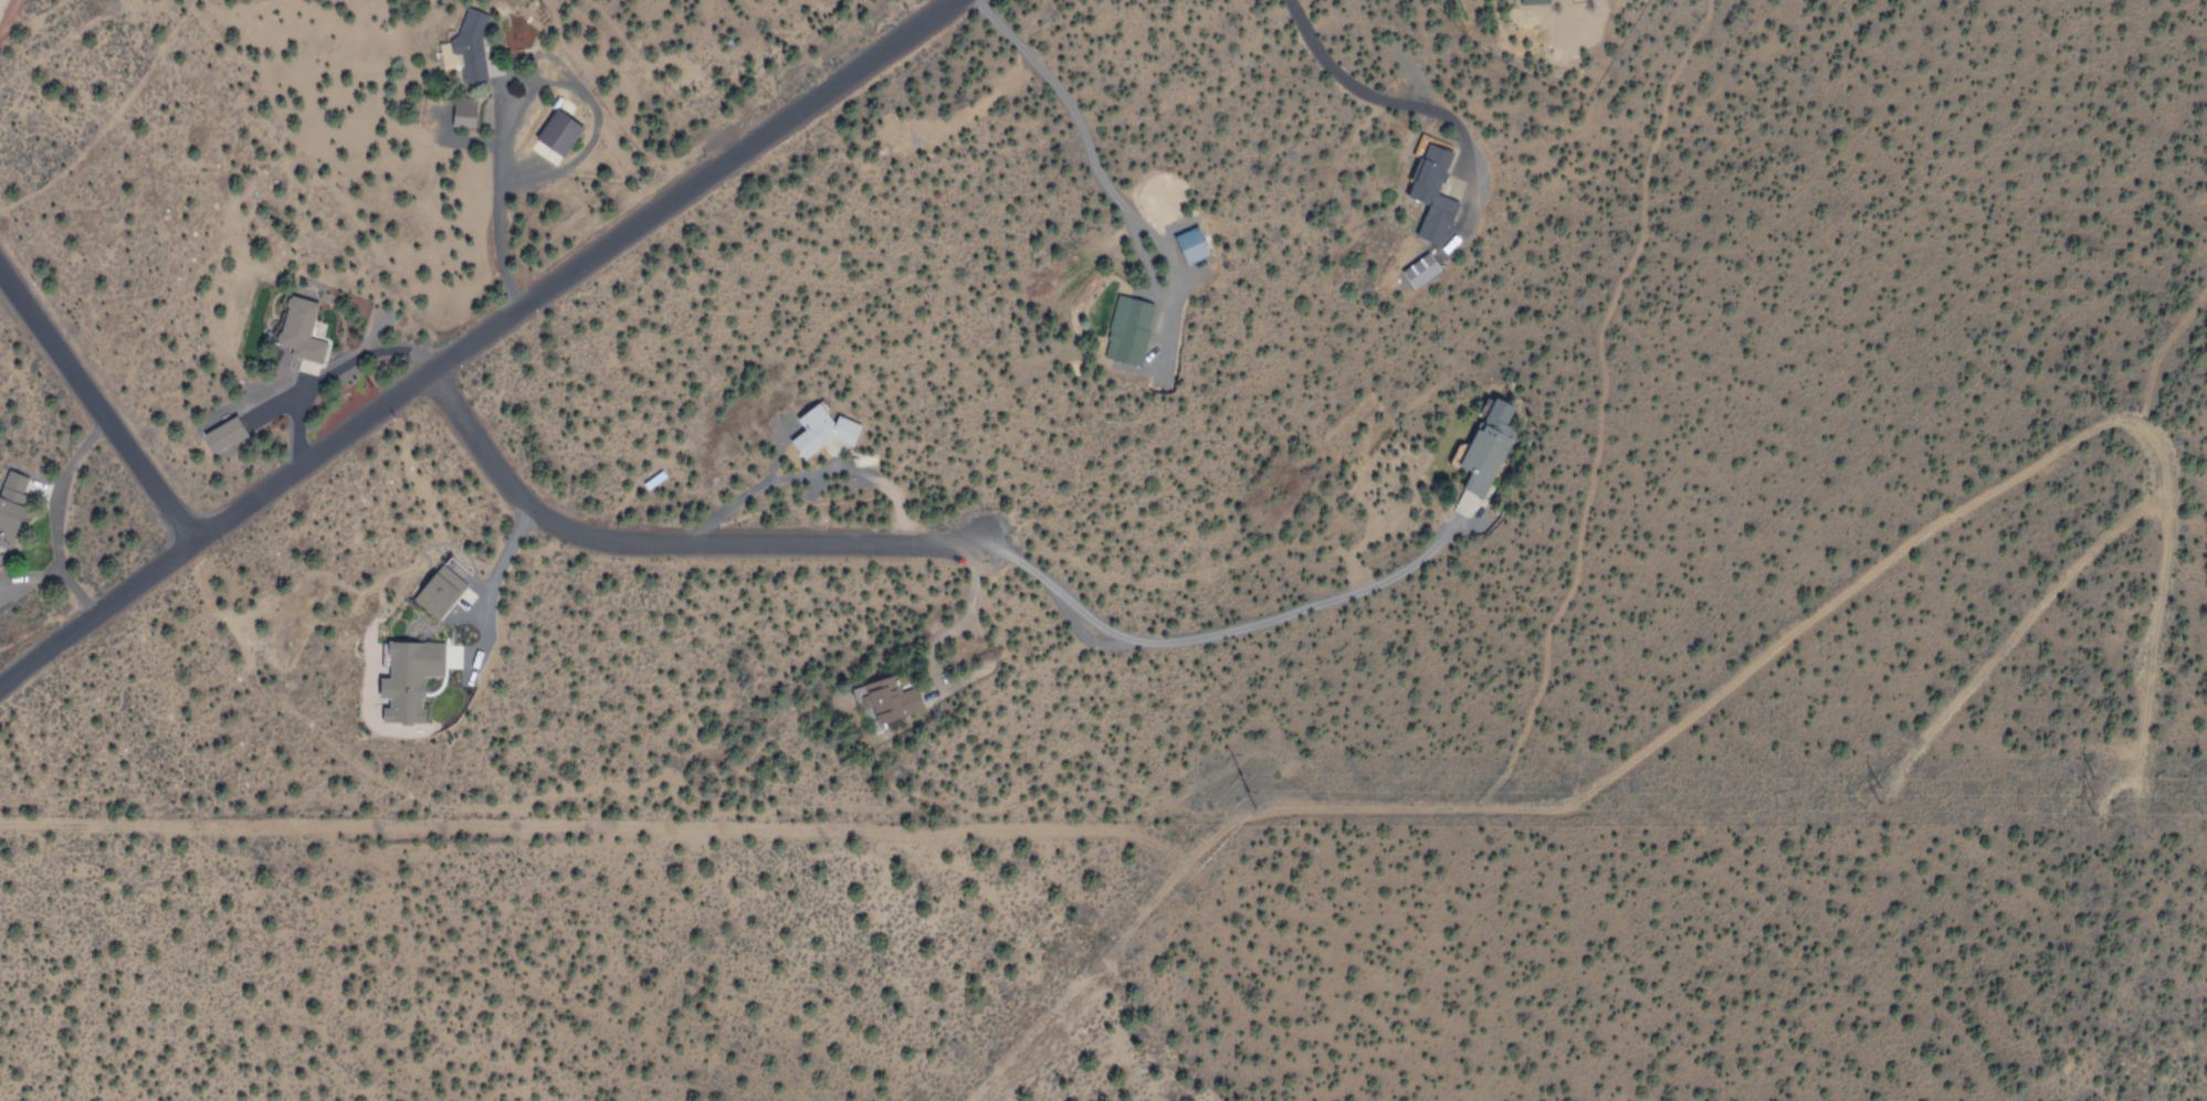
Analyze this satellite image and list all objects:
building: (1533, 2)
building: (469, 50)
building: (554, 138)
building: (1430, 194)
building: (1189, 246)
road: (569, 269)
building: (1422, 269)
building: (1129, 332)
building: (297, 334)
road: (96, 406)
building: (820, 432)
building: (222, 435)
building: (1481, 459)
building: (652, 480)
building: (10, 502)
road: (663, 538)
building: (437, 591)
road: (96, 610)
building: (410, 678)
building: (885, 699)
power tower: (1249, 793)
power tower: (1881, 794)
power tower: (2099, 796)

